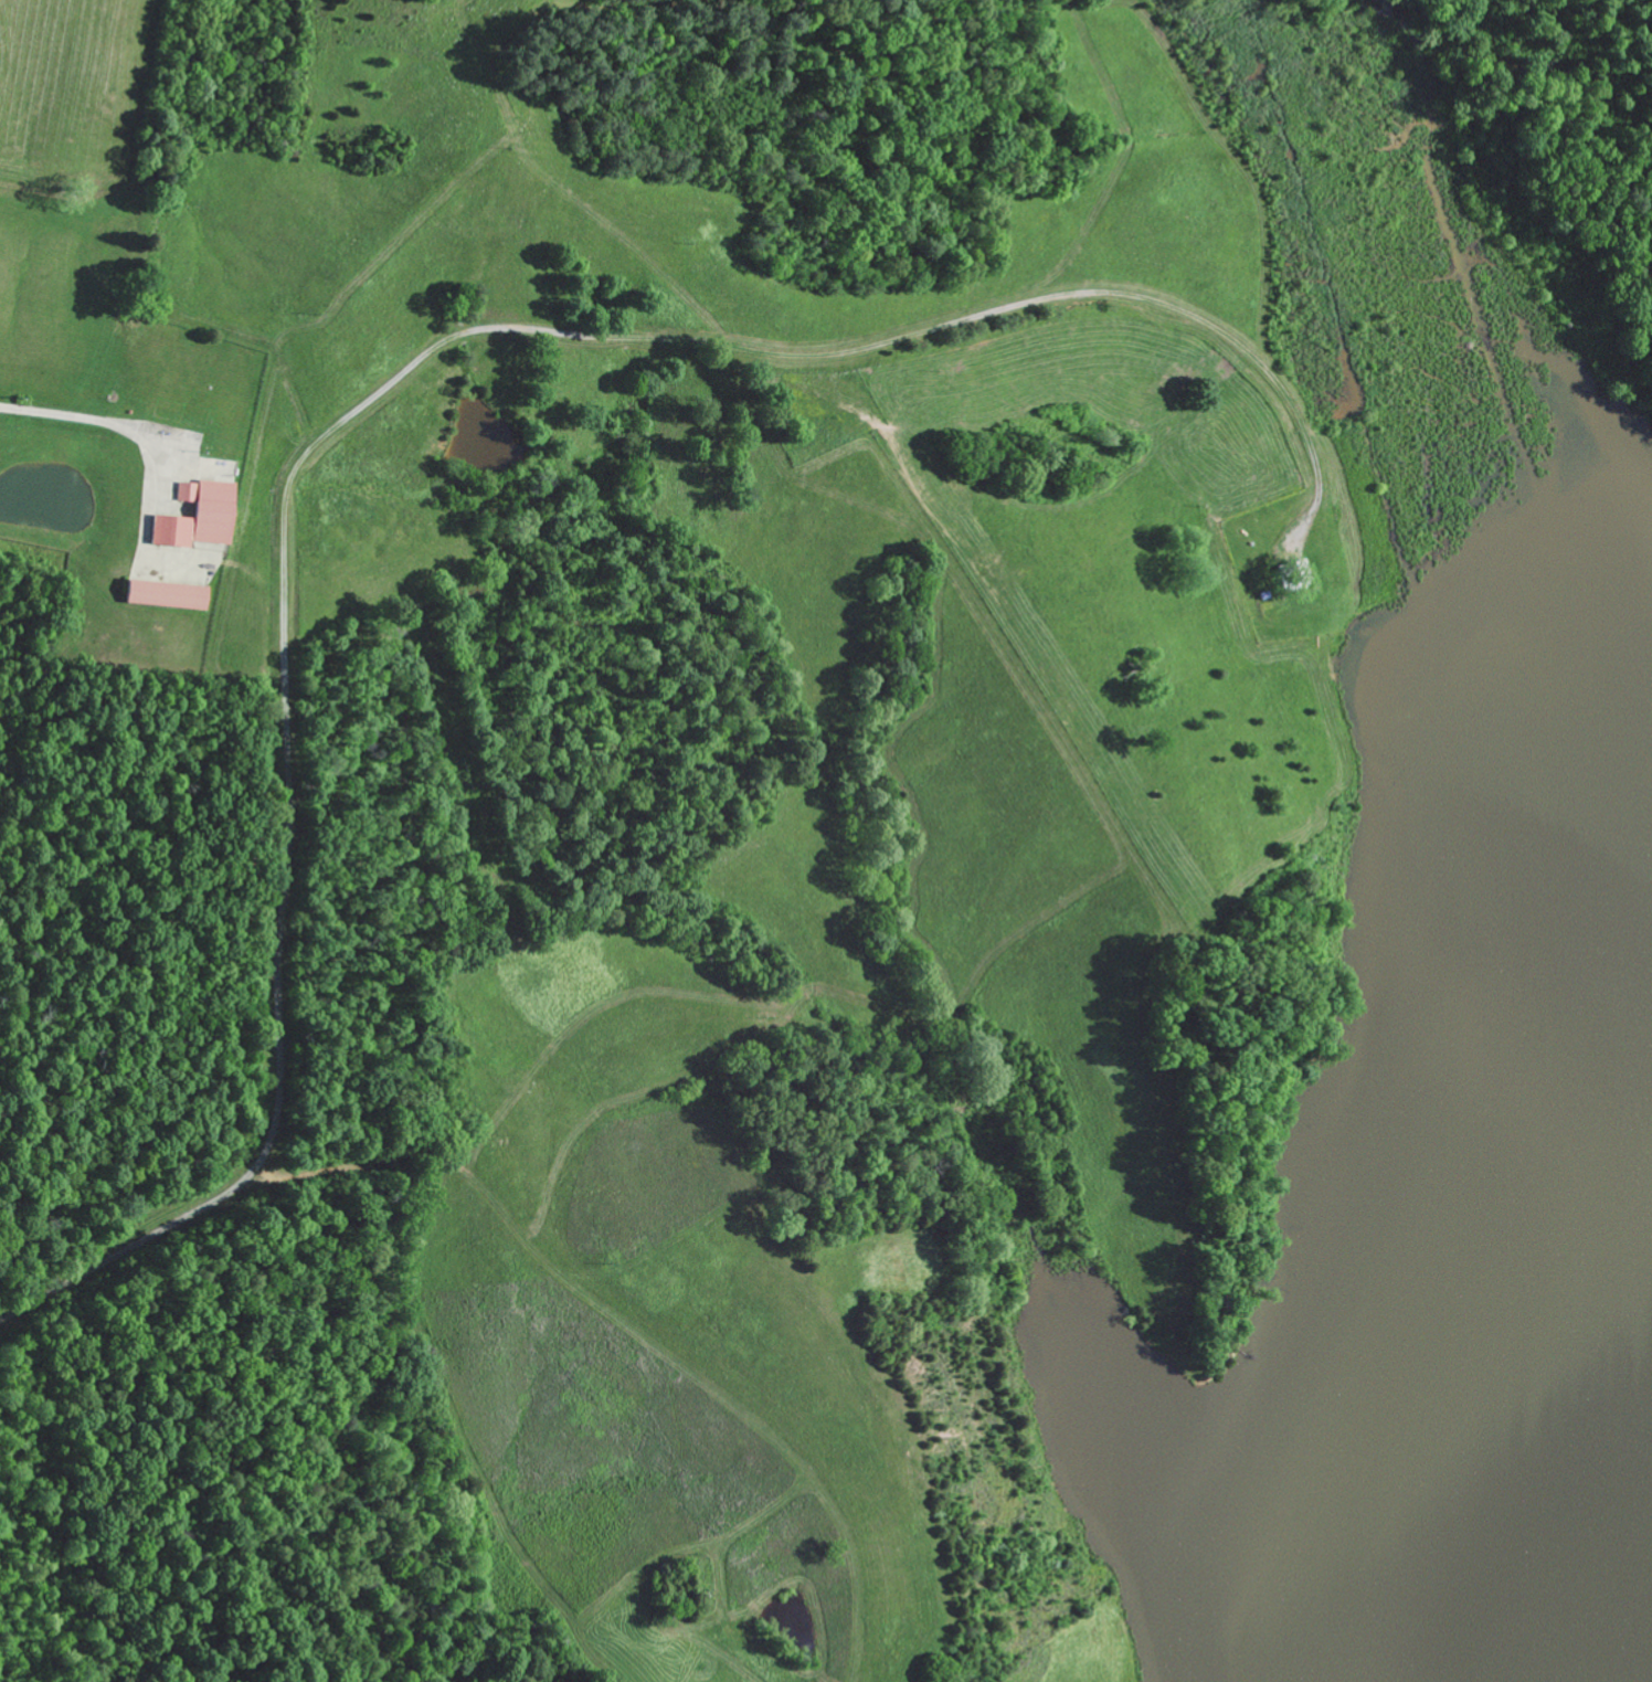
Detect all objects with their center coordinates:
building: (199, 515)
building: (168, 593)
road: (583, 766)

